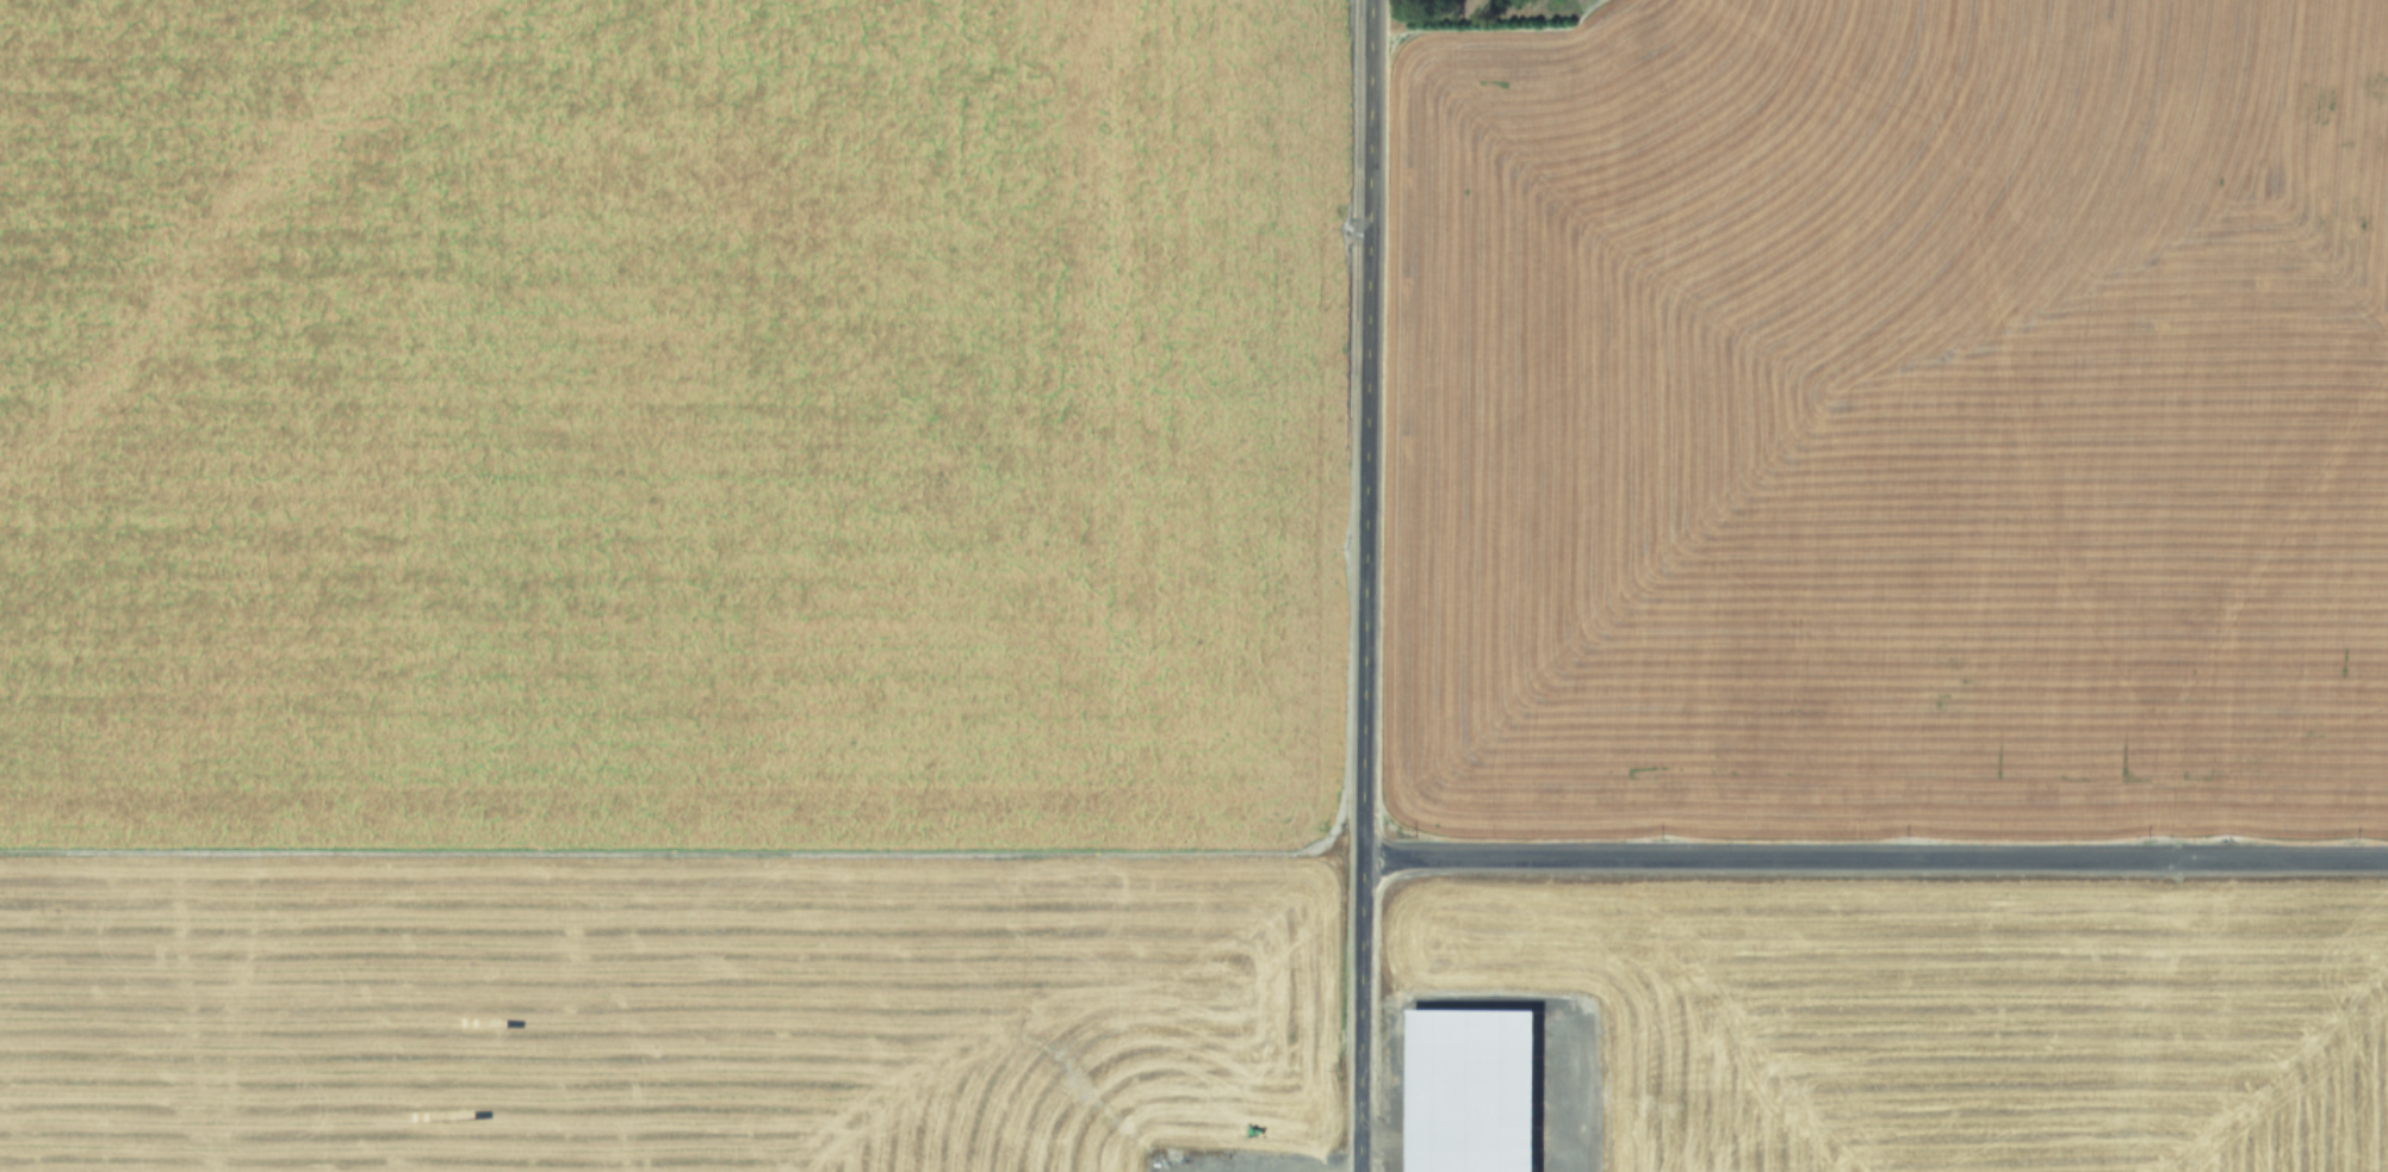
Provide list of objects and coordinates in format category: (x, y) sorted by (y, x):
crop: (1886, 414)
crop: (658, 584)
road: (1356, 585)
road: (1869, 857)
crop: (1886, 1038)

